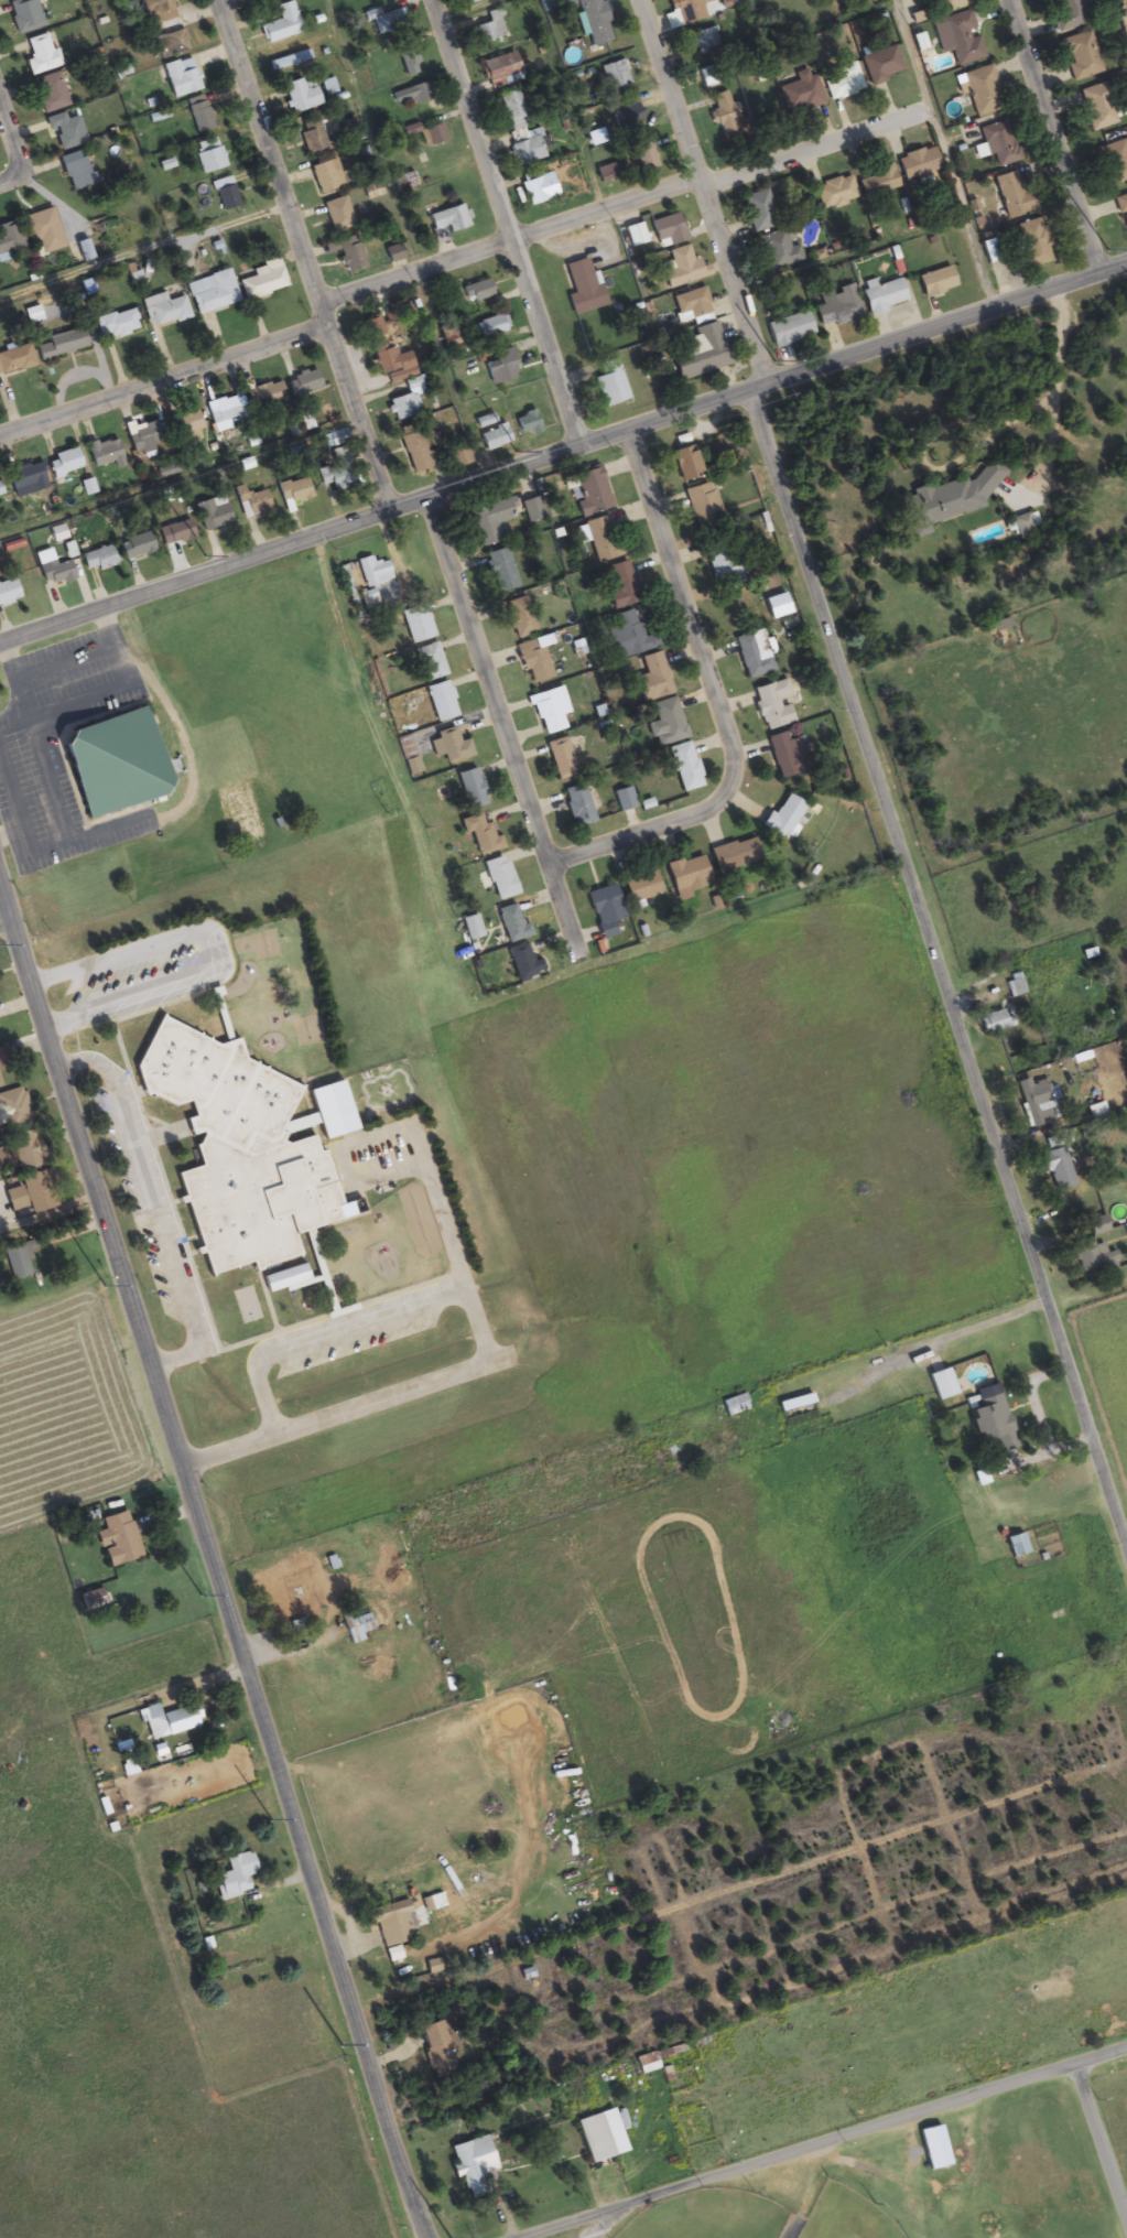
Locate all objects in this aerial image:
building: (944, 6)
building: (685, 10)
building: (23, 15)
building: (1065, 15)
building: (389, 22)
building: (594, 22)
building: (281, 24)
building: (164, 28)
building: (490, 28)
building: (957, 39)
building: (701, 41)
building: (40, 56)
building: (1080, 57)
building: (290, 62)
building: (409, 63)
building: (881, 65)
building: (499, 71)
building: (615, 76)
building: (180, 78)
building: (844, 82)
building: (800, 93)
building: (982, 93)
building: (51, 95)
building: (301, 95)
building: (412, 95)
building: (1096, 108)
building: (513, 110)
building: (628, 115)
building: (724, 115)
building: (199, 116)
building: (65, 132)
building: (434, 136)
road: (1049, 136)
road: (20, 137)
building: (312, 137)
building: (999, 144)
building: (527, 151)
road: (264, 152)
road: (941, 153)
building: (209, 156)
building: (644, 156)
building: (1114, 162)
building: (917, 164)
building: (77, 174)
building: (324, 177)
building: (403, 182)
building: (878, 182)
building: (538, 190)
building: (834, 193)
building: (225, 194)
building: (1012, 196)
road: (620, 201)
building: (1121, 210)
building: (757, 212)
building: (337, 215)
building: (447, 220)
road: (503, 225)
building: (43, 231)
building: (668, 231)
building: (632, 236)
building: (10, 241)
building: (1031, 245)
building: (778, 249)
power tower: (1107, 249)
building: (349, 253)
building: (391, 253)
building: (680, 269)
building: (262, 282)
building: (935, 283)
building: (583, 289)
building: (476, 291)
building: (212, 293)
building: (881, 295)
building: (691, 305)
building: (836, 306)
building: (163, 311)
road: (322, 312)
building: (32, 315)
building: (118, 325)
building: (490, 326)
building: (789, 329)
building: (62, 345)
building: (384, 352)
building: (700, 353)
building: (15, 360)
power tower: (774, 361)
building: (500, 367)
road: (163, 380)
building: (302, 383)
building: (609, 383)
building: (264, 396)
building: (403, 406)
building: (225, 409)
road: (361, 417)
building: (186, 423)
building: (527, 423)
building: (144, 437)
building: (494, 437)
building: (333, 439)
building: (415, 447)
power tower: (518, 448)
building: (104, 453)
road: (564, 454)
building: (458, 456)
building: (63, 463)
building: (684, 463)
building: (335, 471)
building: (24, 480)
building: (292, 491)
building: (589, 491)
building: (0, 495)
building: (949, 499)
building: (250, 502)
building: (703, 506)
building: (532, 509)
building: (212, 516)
building: (491, 520)
building: (174, 533)
building: (603, 540)
building: (136, 547)
power tower: (207, 555)
building: (96, 560)
building: (722, 564)
building: (499, 570)
building: (372, 571)
building: (54, 572)
building: (621, 585)
building: (8, 592)
building: (518, 617)
building: (415, 624)
building: (628, 637)
building: (751, 653)
building: (533, 661)
building: (429, 662)
building: (651, 679)
road: (720, 695)
building: (441, 701)
building: (771, 704)
building: (548, 711)
road: (508, 712)
building: (665, 724)
building: (448, 746)
building: (783, 754)
building: (560, 758)
building: (110, 763)
building: (684, 767)
road: (877, 769)
building: (470, 788)
building: (624, 799)
building: (577, 806)
building: (782, 818)
building: (479, 834)
building: (730, 855)
building: (687, 876)
building: (499, 878)
building: (641, 887)
building: (604, 910)
road: (6, 920)
building: (510, 926)
building: (472, 927)
building: (522, 963)
building: (1015, 986)
building: (995, 1021)
building: (1017, 1066)
building: (1036, 1103)
building: (13, 1111)
building: (23, 1152)
building: (248, 1156)
building: (1056, 1169)
building: (32, 1193)
building: (1096, 1225)
building: (1125, 1229)
building: (1092, 1256)
building: (17, 1262)
power tower: (104, 1285)
building: (940, 1385)
building: (797, 1410)
building: (990, 1426)
building: (117, 1539)
building: (1016, 1546)
road: (213, 1559)
power tower: (202, 1593)
building: (283, 1603)
building: (357, 1628)
building: (169, 1721)
power tower: (270, 1819)
building: (234, 1877)
building: (392, 1924)
building: (432, 2042)
power tower: (340, 2044)
building: (646, 2064)
building: (594, 2138)
road: (826, 2143)
road: (1099, 2147)
building: (933, 2148)
building: (472, 2162)
park: (923, 2182)
power tower: (447, 2237)

